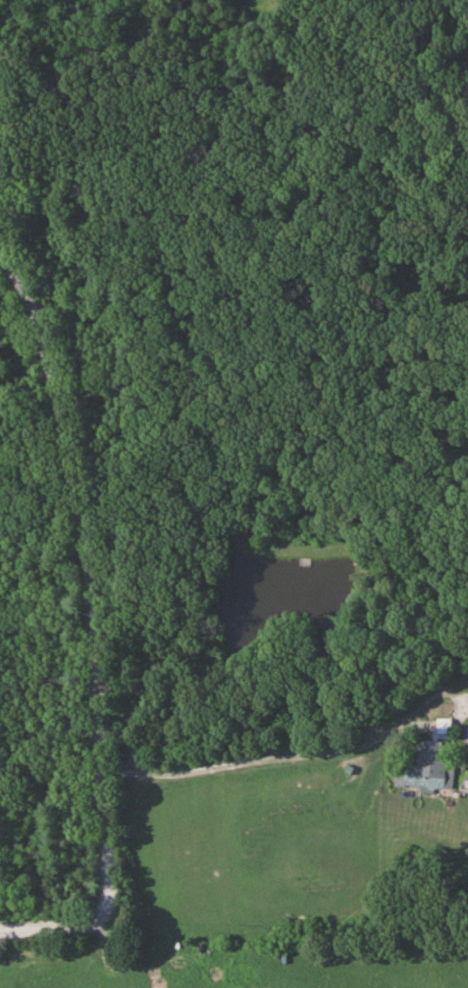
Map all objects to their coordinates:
road: (92, 630)
road: (259, 758)
building: (427, 769)

